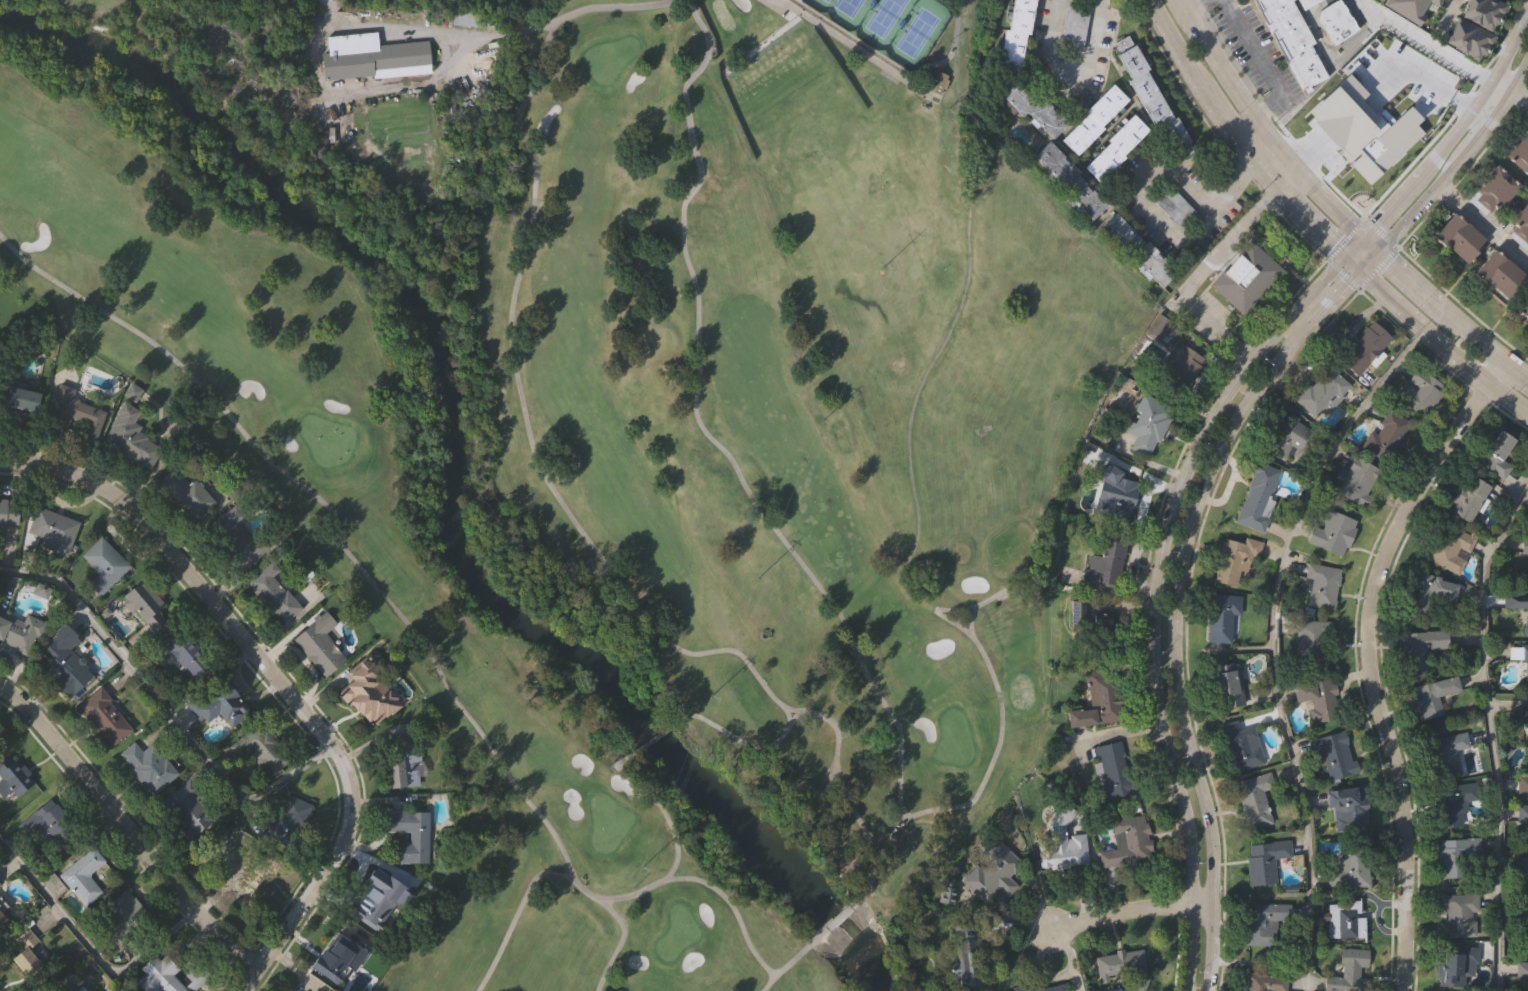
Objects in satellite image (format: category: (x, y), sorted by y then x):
building: (1381, 0)
building: (1307, 2)
road: (326, 3)
park: (847, 3)
building: (1410, 7)
road: (589, 9)
road: (1193, 9)
park: (882, 12)
building: (1485, 12)
road: (1447, 17)
building: (466, 18)
building: (1337, 19)
road: (1178, 22)
park: (916, 24)
building: (1077, 24)
building: (1016, 32)
road: (477, 37)
building: (785, 37)
building: (1294, 39)
road: (1423, 42)
road: (761, 44)
building: (376, 54)
road: (1262, 61)
road: (890, 70)
road: (435, 72)
road: (1069, 72)
road: (1518, 73)
building: (1426, 78)
building: (938, 80)
road: (1488, 82)
road: (1510, 91)
building: (1155, 95)
building: (1031, 104)
road: (1272, 115)
building: (1097, 117)
building: (1362, 120)
building: (906, 121)
road: (1490, 123)
road: (1274, 133)
road: (1238, 134)
road: (1218, 138)
building: (1116, 145)
road: (1269, 148)
building: (1521, 152)
road: (1421, 172)
building: (1070, 179)
building: (1494, 188)
road: (1427, 201)
building: (1174, 206)
road: (1387, 209)
road: (1162, 224)
road: (1483, 225)
building: (1521, 226)
road: (1380, 233)
building: (1460, 237)
road: (1345, 240)
road: (1356, 241)
building: (1139, 248)
road: (1376, 260)
road: (1355, 262)
road: (1378, 268)
road: (1198, 269)
building: (1251, 271)
building: (1501, 272)
road: (1343, 274)
building: (1524, 305)
road: (1456, 312)
road: (1445, 342)
building: (1363, 349)
building: (1178, 365)
road: (1497, 368)
building: (1322, 393)
building: (1419, 393)
building: (20, 400)
building: (74, 414)
building: (1145, 423)
park: (611, 425)
building: (1385, 435)
building: (128, 436)
building: (1288, 438)
building: (1497, 456)
road: (734, 467)
building: (1358, 481)
building: (186, 492)
building: (1256, 498)
building: (1119, 499)
building: (1468, 499)
road: (565, 507)
building: (8, 514)
building: (53, 530)
building: (1332, 533)
building: (234, 538)
building: (1449, 548)
building: (1525, 553)
building: (1104, 563)
building: (1234, 563)
building: (103, 566)
road: (367, 577)
building: (1320, 586)
building: (272, 593)
building: (1429, 594)
road: (1158, 595)
building: (1517, 604)
building: (144, 606)
road: (1186, 607)
road: (936, 611)
building: (1221, 617)
building: (20, 633)
road: (1271, 638)
building: (1314, 643)
building: (318, 645)
building: (1420, 648)
building: (1523, 654)
building: (180, 655)
building: (61, 662)
road: (1367, 670)
road: (273, 679)
building: (1225, 685)
building: (365, 693)
building: (1431, 697)
building: (1318, 699)
building: (1096, 701)
building: (215, 704)
road: (162, 707)
building: (104, 718)
building: (1526, 719)
road: (1000, 729)
road: (1490, 731)
road: (653, 739)
road: (743, 742)
building: (1241, 746)
building: (261, 749)
building: (1444, 753)
building: (1333, 754)
building: (400, 766)
building: (147, 767)
building: (1112, 770)
building: (13, 776)
building: (1522, 785)
building: (1253, 801)
building: (1452, 803)
building: (1349, 805)
building: (188, 808)
building: (1522, 816)
building: (286, 822)
building: (50, 823)
road: (128, 828)
building: (410, 835)
building: (1062, 842)
building: (1127, 843)
road: (676, 844)
building: (1454, 859)
building: (1263, 860)
building: (1522, 865)
building: (1350, 867)
building: (990, 873)
building: (248, 874)
building: (83, 877)
building: (369, 896)
road: (732, 906)
building: (126, 912)
road: (1132, 912)
road: (515, 914)
building: (1458, 916)
road: (839, 918)
building: (1344, 920)
building: (1262, 922)
building: (3, 925)
building: (1523, 930)
road: (88, 948)
building: (962, 949)
building: (21, 951)
building: (336, 956)
road: (793, 960)
building: (1454, 962)
building: (1123, 965)
building: (1348, 971)
building: (158, 974)
building: (195, 975)
building: (1522, 975)
building: (1263, 982)
building: (1044, 986)
building: (63, 988)
building: (77, 989)

